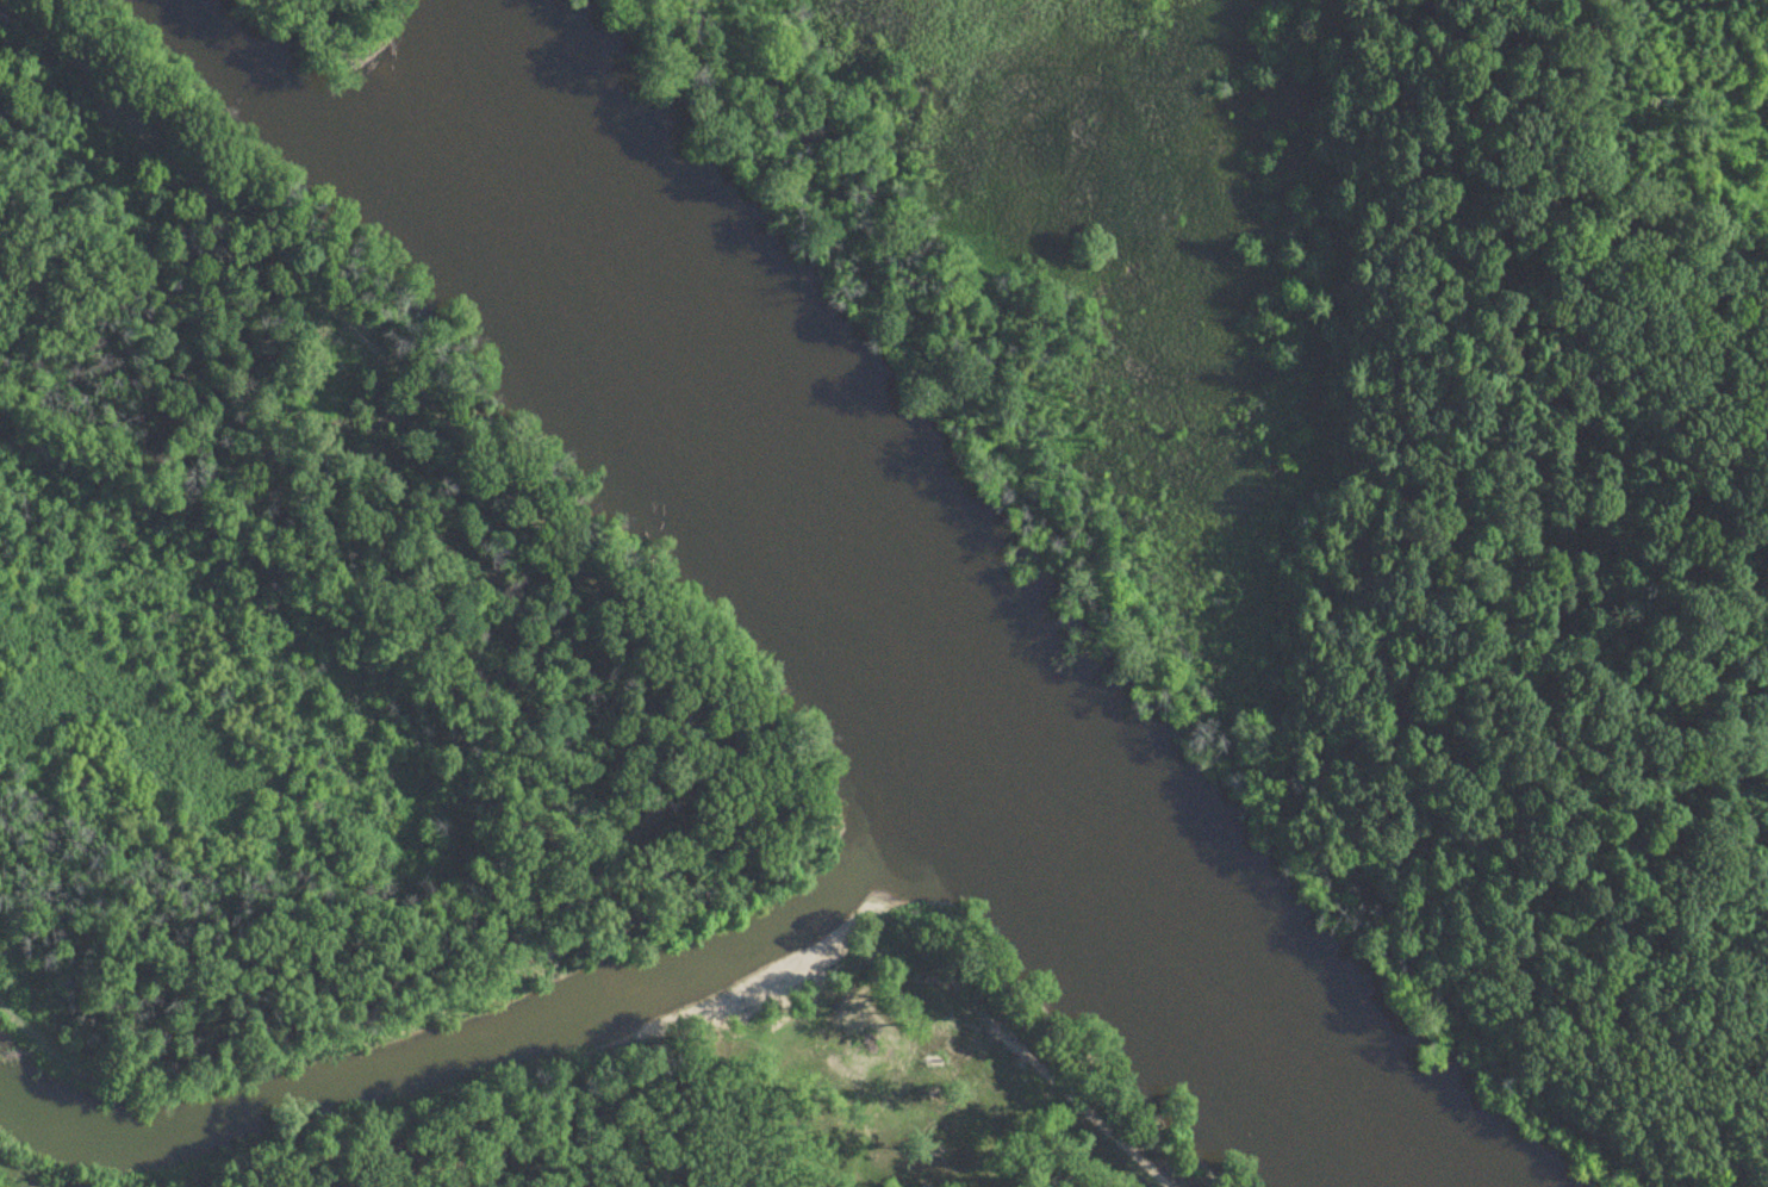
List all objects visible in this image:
river: (915, 623)
road: (658, 677)
road: (41, 1180)

